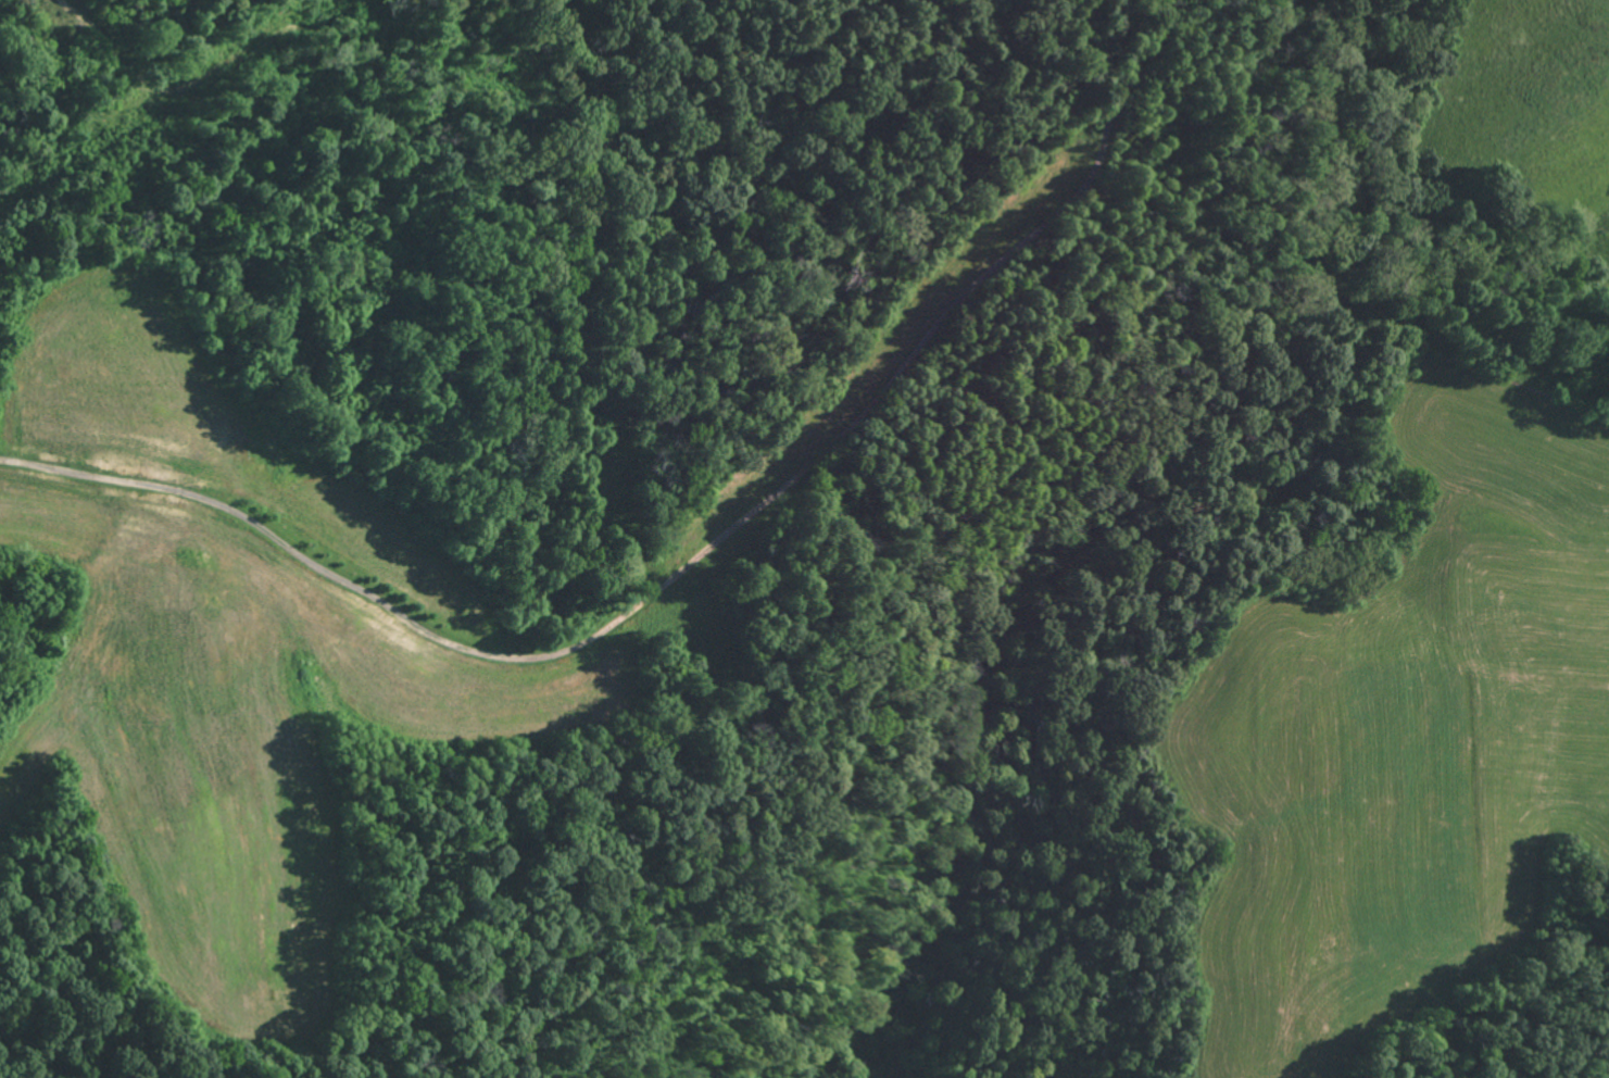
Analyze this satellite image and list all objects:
road: (682, 562)

